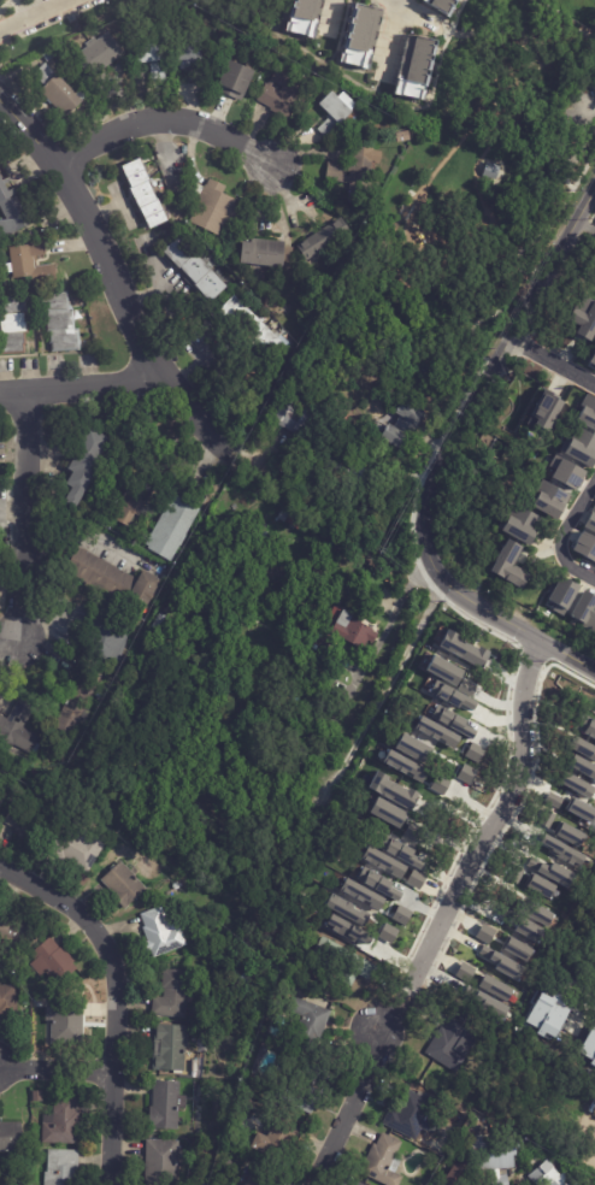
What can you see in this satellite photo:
road: (405, 4)
building: (441, 6)
road: (413, 12)
road: (35, 16)
road: (332, 17)
building: (302, 18)
road: (514, 31)
building: (359, 33)
road: (394, 41)
building: (194, 48)
building: (100, 53)
building: (49, 57)
building: (153, 61)
building: (418, 66)
building: (237, 81)
building: (289, 89)
building: (60, 92)
building: (334, 114)
road: (166, 119)
building: (405, 137)
building: (488, 169)
building: (357, 175)
building: (145, 194)
building: (11, 210)
building: (216, 210)
park: (472, 212)
building: (325, 240)
building: (267, 254)
building: (31, 264)
building: (196, 271)
road: (116, 281)
building: (0, 289)
building: (585, 318)
building: (60, 323)
building: (14, 324)
building: (253, 329)
building: (593, 358)
road: (552, 361)
road: (491, 367)
building: (425, 373)
road: (81, 384)
building: (544, 412)
building: (587, 413)
building: (294, 419)
building: (405, 426)
building: (579, 448)
building: (418, 453)
road: (23, 455)
building: (87, 464)
building: (565, 472)
building: (254, 473)
building: (349, 474)
building: (267, 479)
building: (548, 500)
building: (131, 503)
building: (297, 519)
building: (590, 520)
building: (519, 525)
building: (173, 526)
road: (84, 535)
road: (561, 535)
road: (20, 540)
building: (585, 546)
building: (508, 565)
building: (100, 572)
building: (145, 590)
building: (562, 595)
road: (19, 602)
building: (584, 608)
road: (506, 621)
building: (342, 633)
building: (107, 636)
building: (463, 649)
building: (443, 671)
building: (452, 696)
building: (78, 700)
building: (452, 721)
building: (18, 727)
building: (435, 732)
building: (414, 747)
building: (581, 748)
building: (402, 765)
building: (582, 766)
building: (35, 773)
building: (465, 776)
building: (576, 785)
building: (391, 790)
building: (581, 809)
building: (387, 813)
road: (495, 820)
building: (28, 823)
building: (134, 830)
building: (569, 835)
building: (79, 851)
building: (562, 851)
building: (399, 856)
building: (382, 867)
building: (552, 871)
building: (247, 874)
building: (416, 880)
building: (124, 885)
building: (541, 886)
building: (379, 888)
road: (53, 897)
building: (364, 900)
building: (346, 909)
building: (535, 912)
building: (401, 915)
building: (529, 930)
building: (350, 931)
building: (164, 932)
building: (387, 933)
building: (13, 935)
building: (518, 948)
building: (53, 961)
building: (344, 962)
building: (466, 968)
building: (461, 977)
building: (249, 978)
building: (494, 989)
building: (173, 995)
road: (407, 1001)
building: (8, 1002)
building: (489, 1004)
building: (547, 1015)
building: (308, 1024)
building: (67, 1025)
building: (467, 1042)
building: (448, 1045)
building: (588, 1047)
building: (170, 1048)
road: (112, 1060)
road: (55, 1072)
road: (355, 1095)
building: (39, 1096)
building: (301, 1101)
building: (166, 1107)
building: (411, 1114)
building: (63, 1122)
building: (11, 1138)
building: (269, 1142)
building: (496, 1156)
building: (381, 1160)
building: (163, 1162)
building: (63, 1168)
building: (460, 1173)
building: (554, 1177)
building: (257, 1180)
building: (357, 1183)

